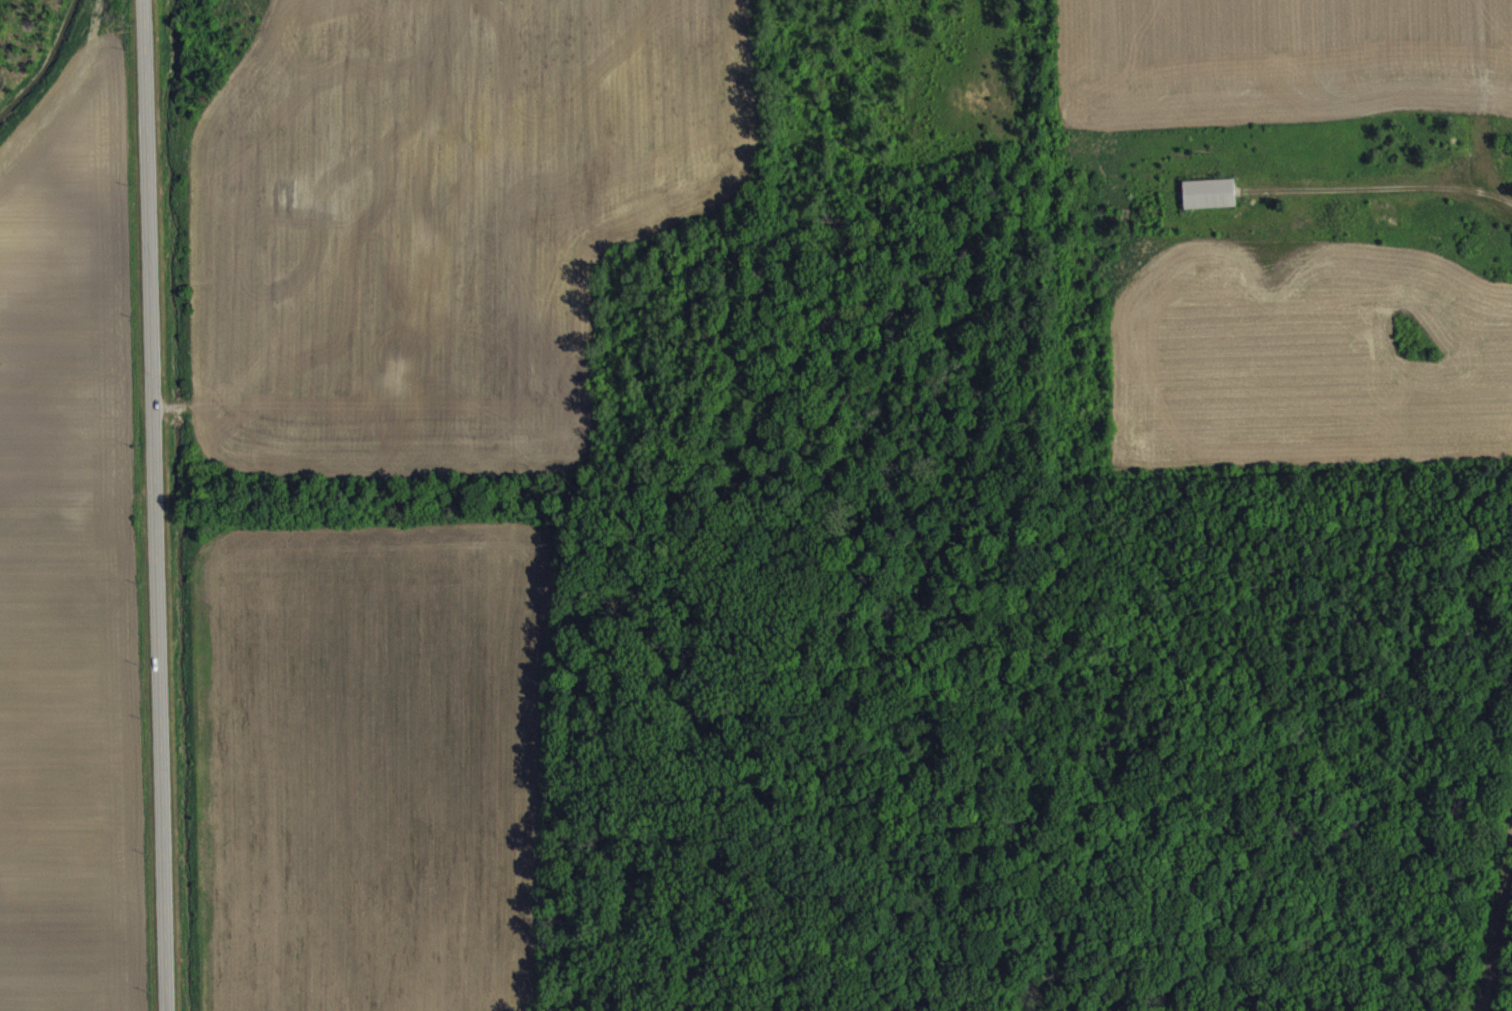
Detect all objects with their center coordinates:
building: (1210, 203)
road: (154, 505)

